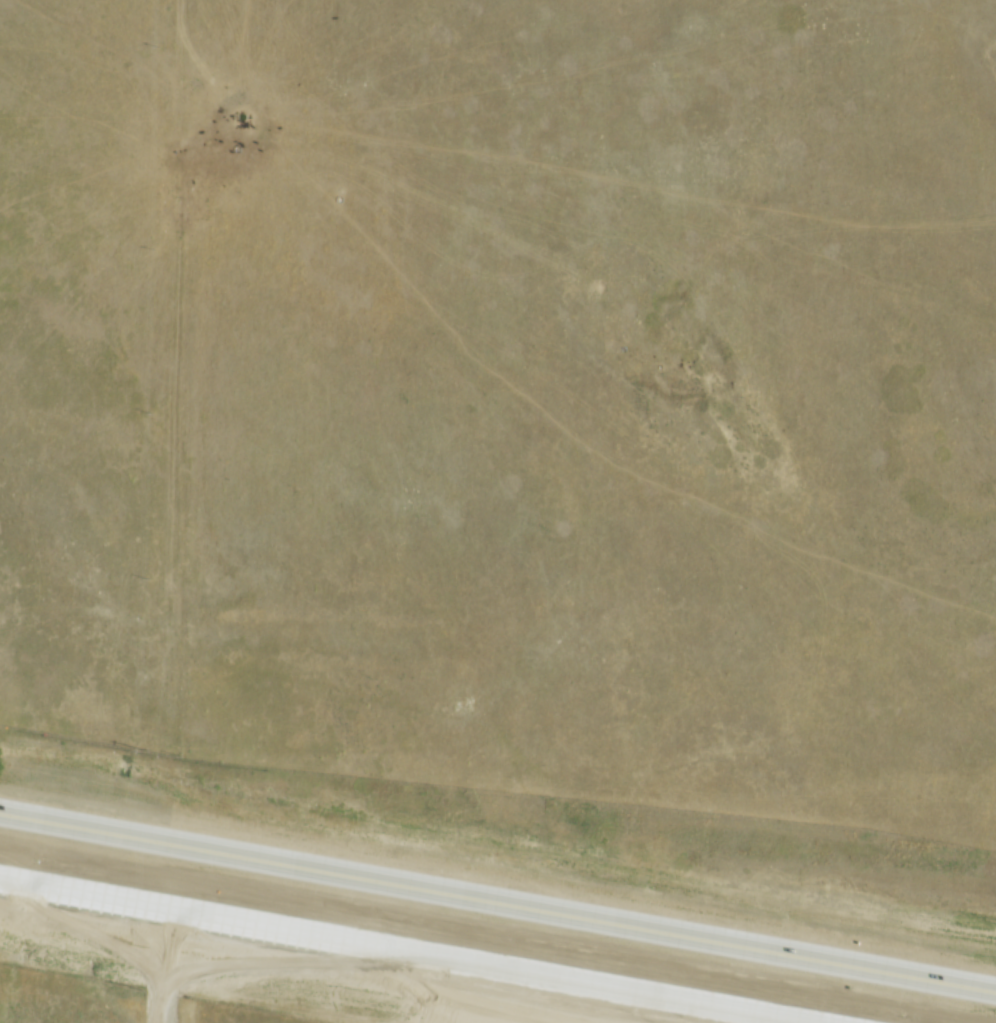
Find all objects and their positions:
road: (498, 902)
road: (408, 949)

